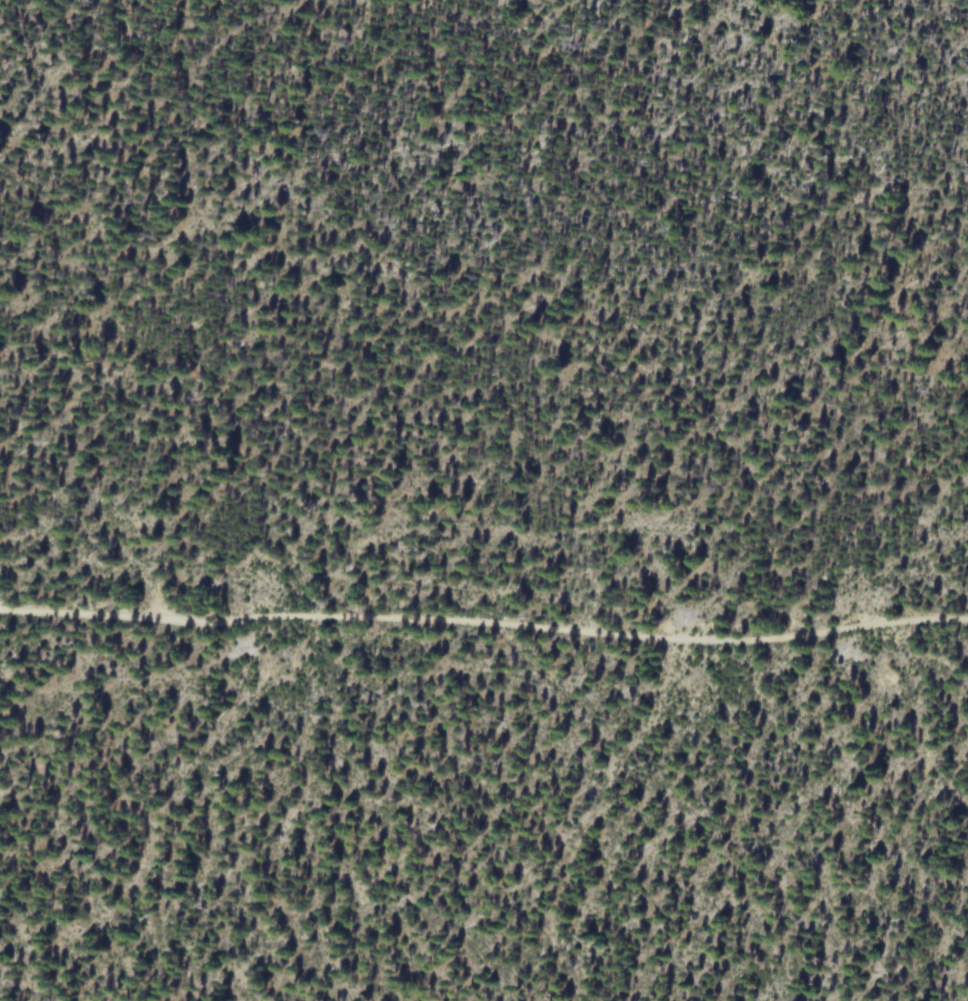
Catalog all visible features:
road: (484, 622)

